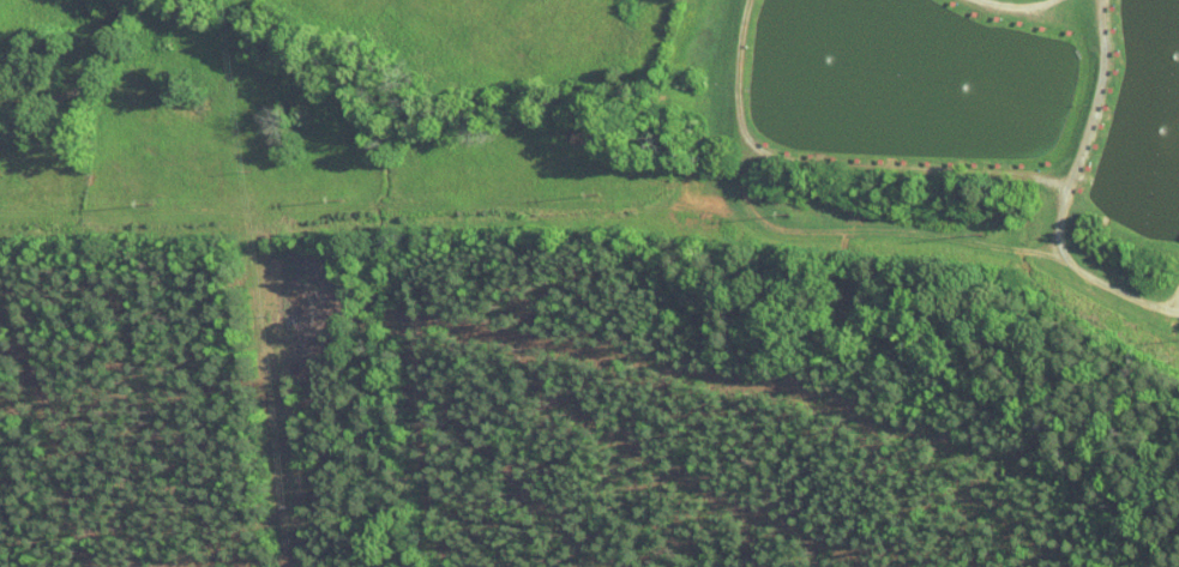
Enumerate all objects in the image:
road: (121, 26)

